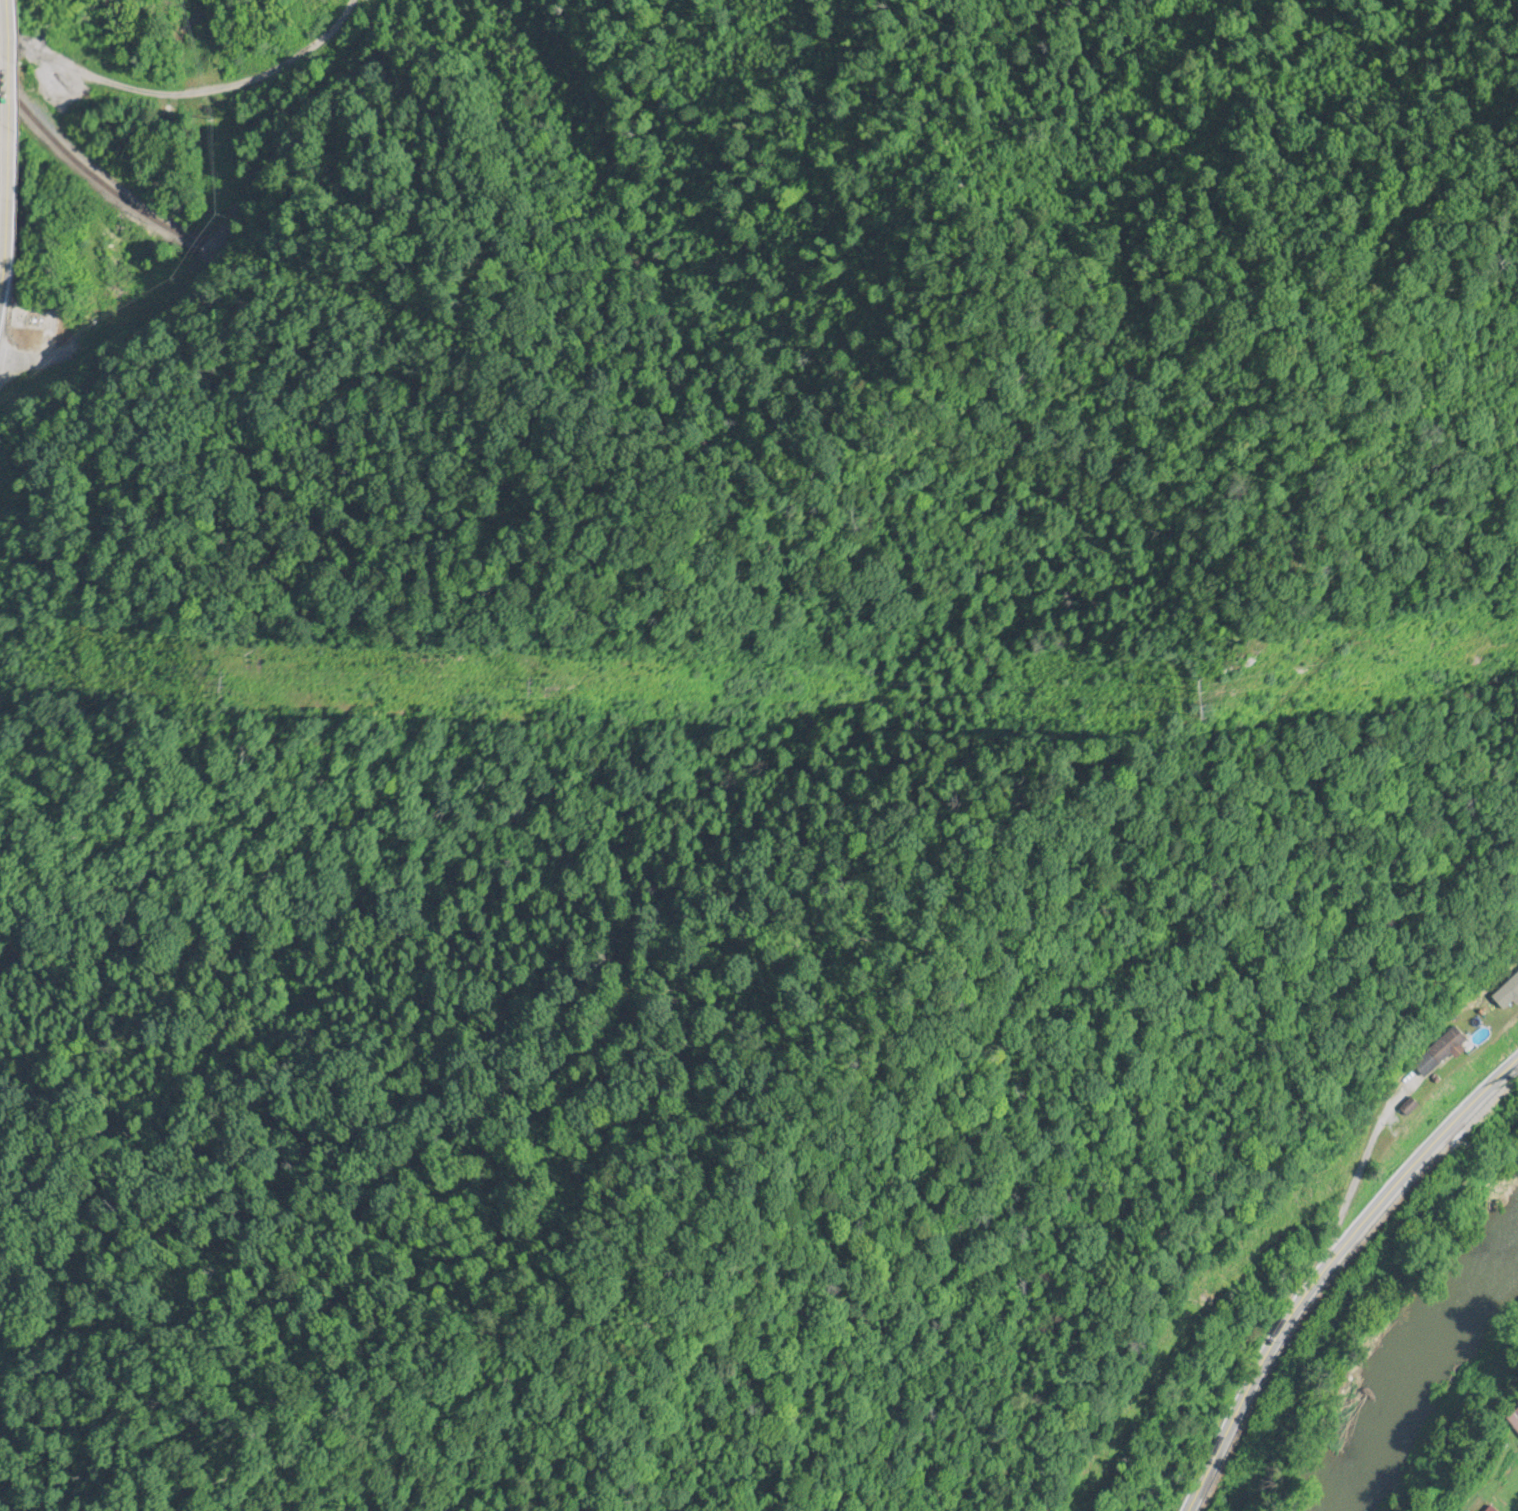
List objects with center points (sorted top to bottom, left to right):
road: (226, 94)
road: (19, 141)
railway: (89, 173)
road: (1, 292)
road: (31, 361)
power tower: (231, 686)
power tower: (542, 688)
power tower: (1211, 702)
building: (1451, 1048)
building: (1416, 1109)
road: (1330, 1266)
river: (1424, 1382)
building: (1514, 1420)
building: (1492, 1509)

